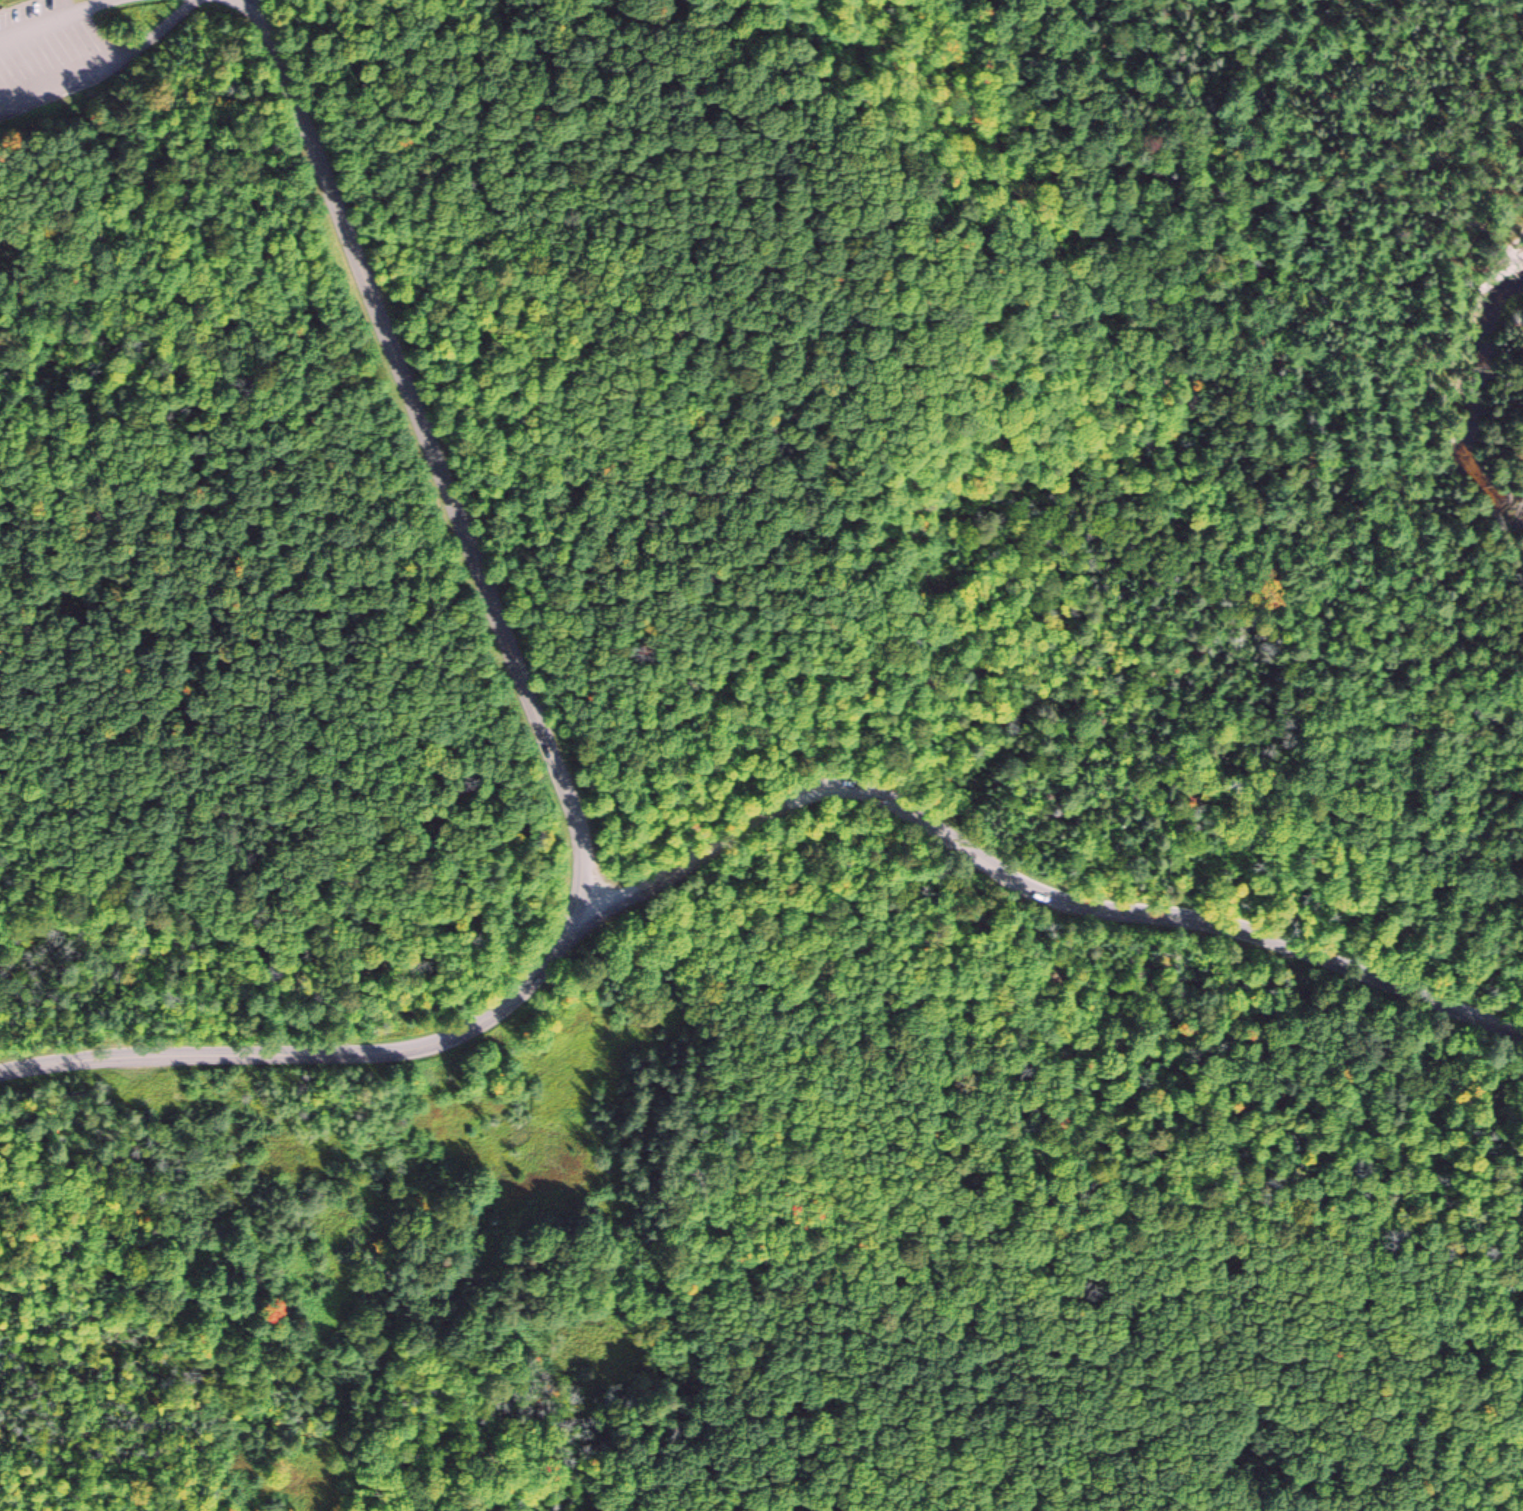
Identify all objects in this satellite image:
road: (64, 6)
road: (248, 9)
road: (264, 9)
road: (55, 18)
parking lot: (51, 55)
road: (105, 68)
river: (1466, 420)
road: (1195, 466)
road: (444, 476)
road: (1028, 886)
road: (308, 1057)

